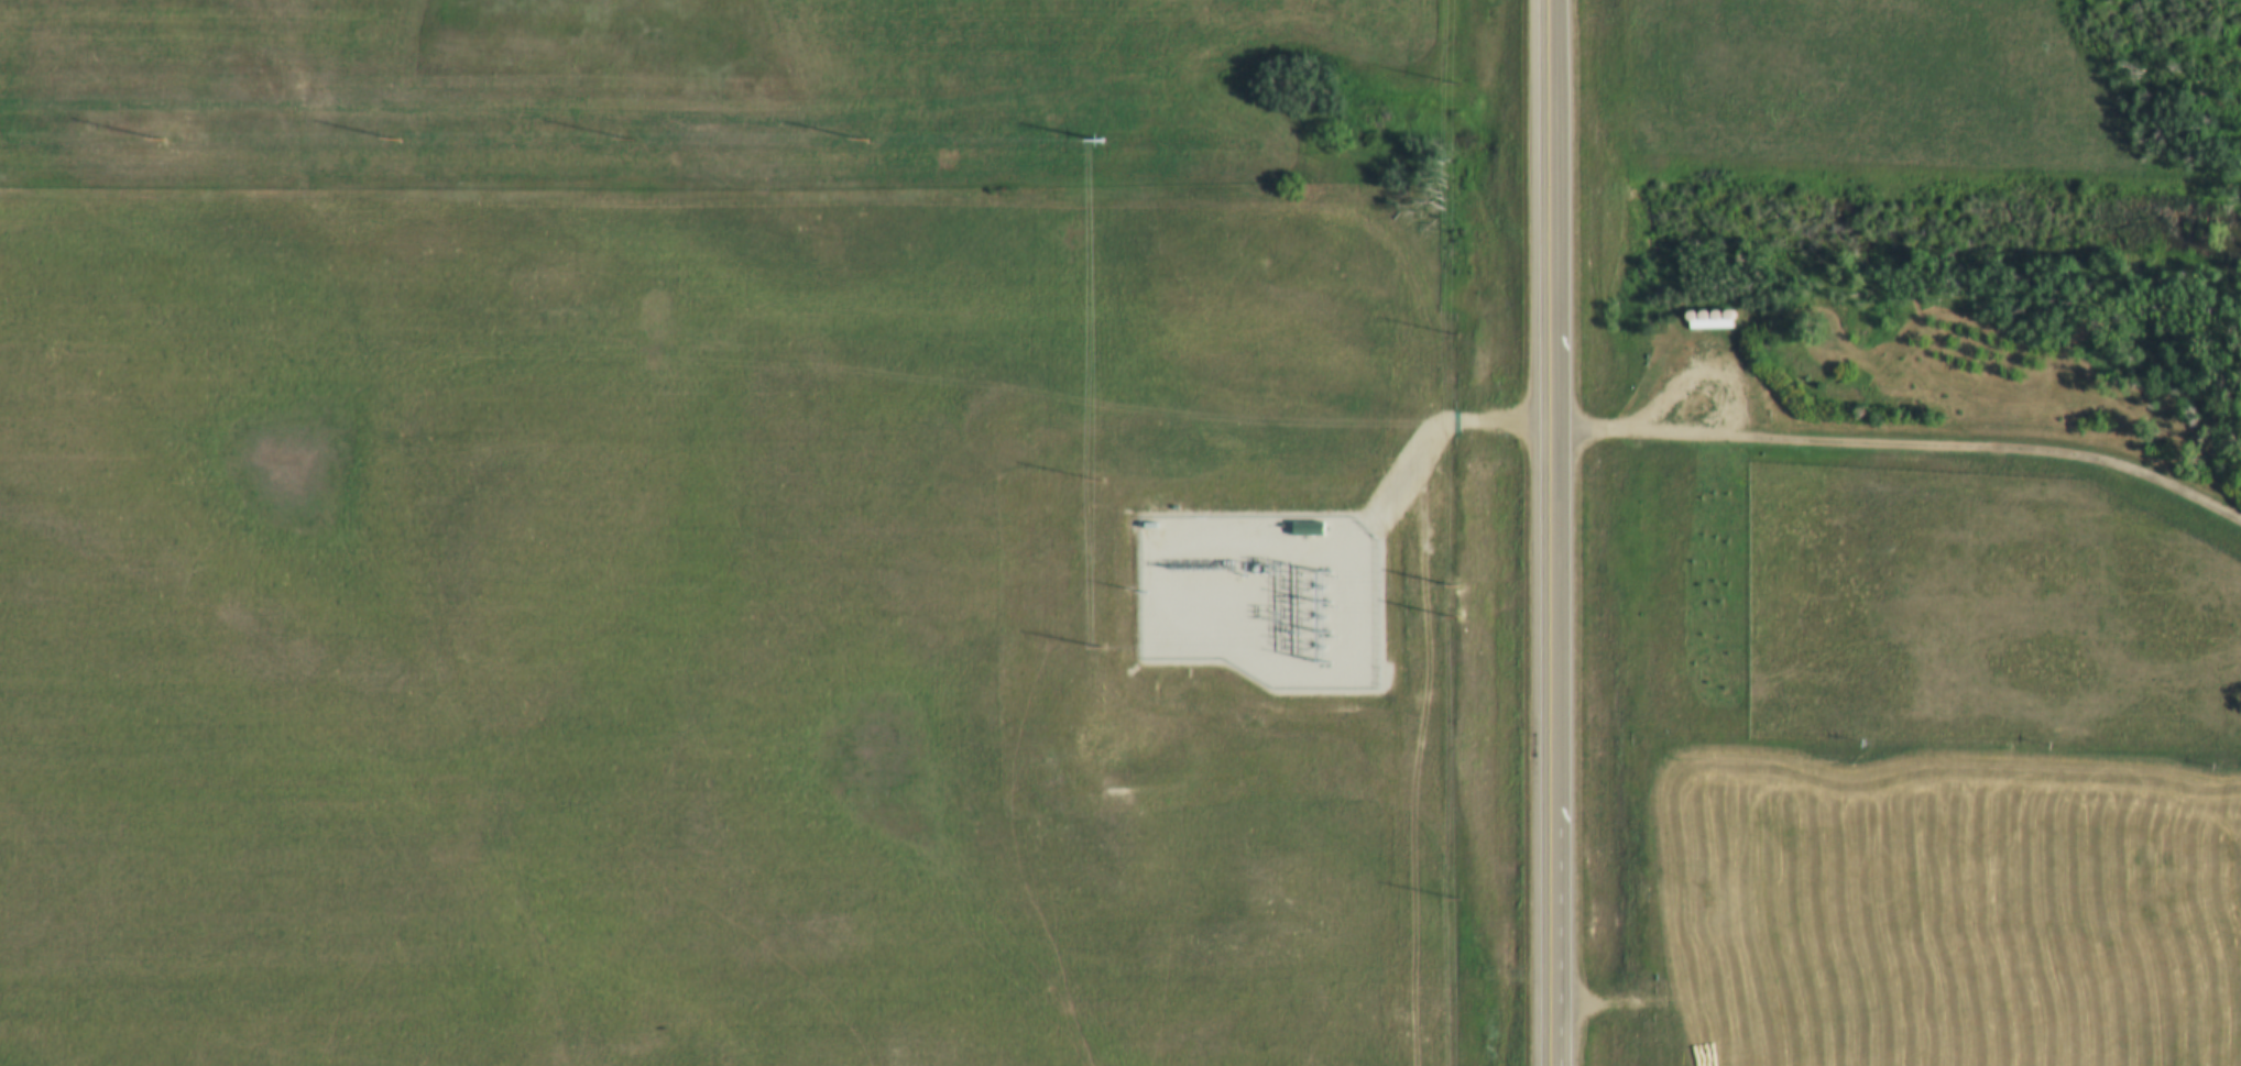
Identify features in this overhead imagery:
road: (1714, 373)
building: (1704, 391)
road: (1901, 447)
road: (1550, 532)
power substation: (1255, 601)

